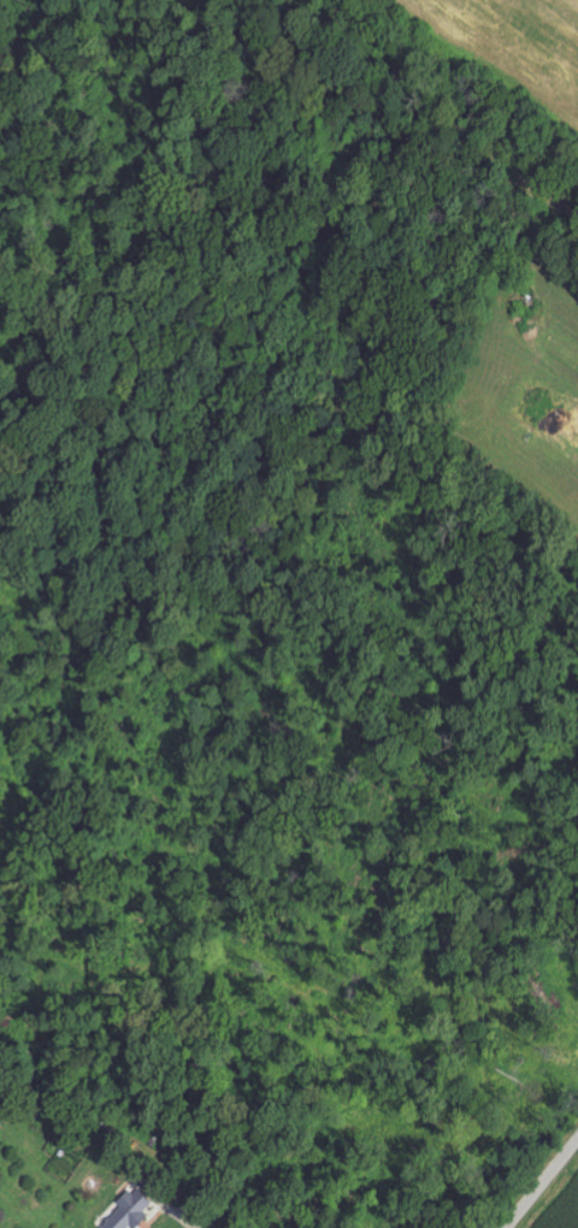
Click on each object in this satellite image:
road: (542, 1183)
building: (134, 1210)
road: (183, 1216)

